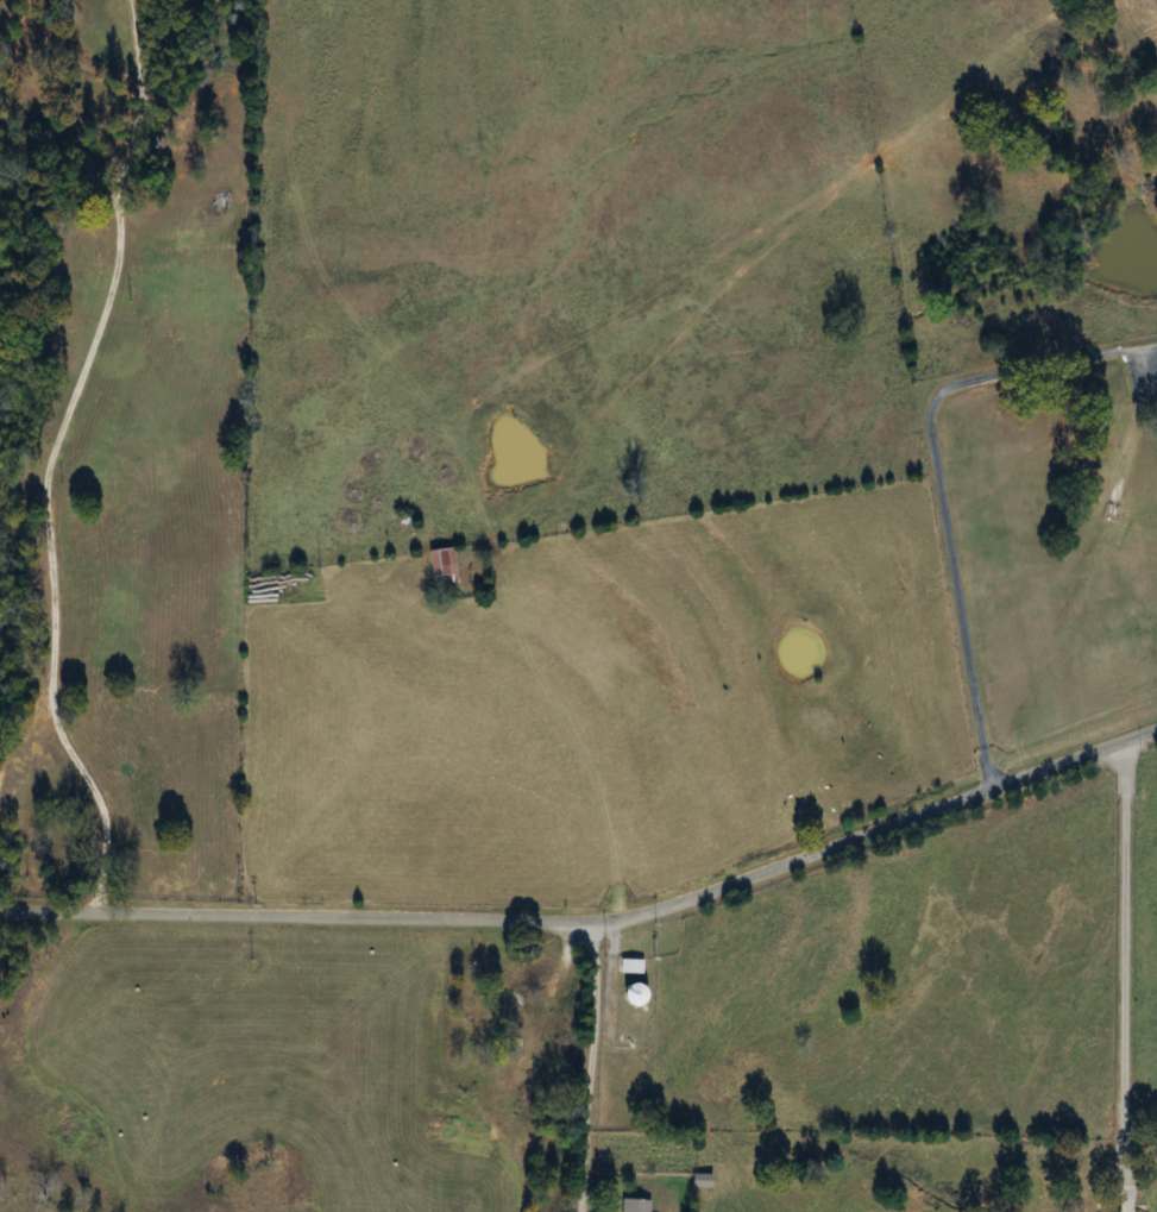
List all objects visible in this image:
road: (48, 454)
road: (936, 479)
building: (447, 566)
road: (580, 749)
road: (593, 917)
road: (1124, 965)
building: (635, 966)
building: (647, 994)
building: (540, 1010)
road: (590, 1065)
road: (1124, 1200)
building: (639, 1205)

